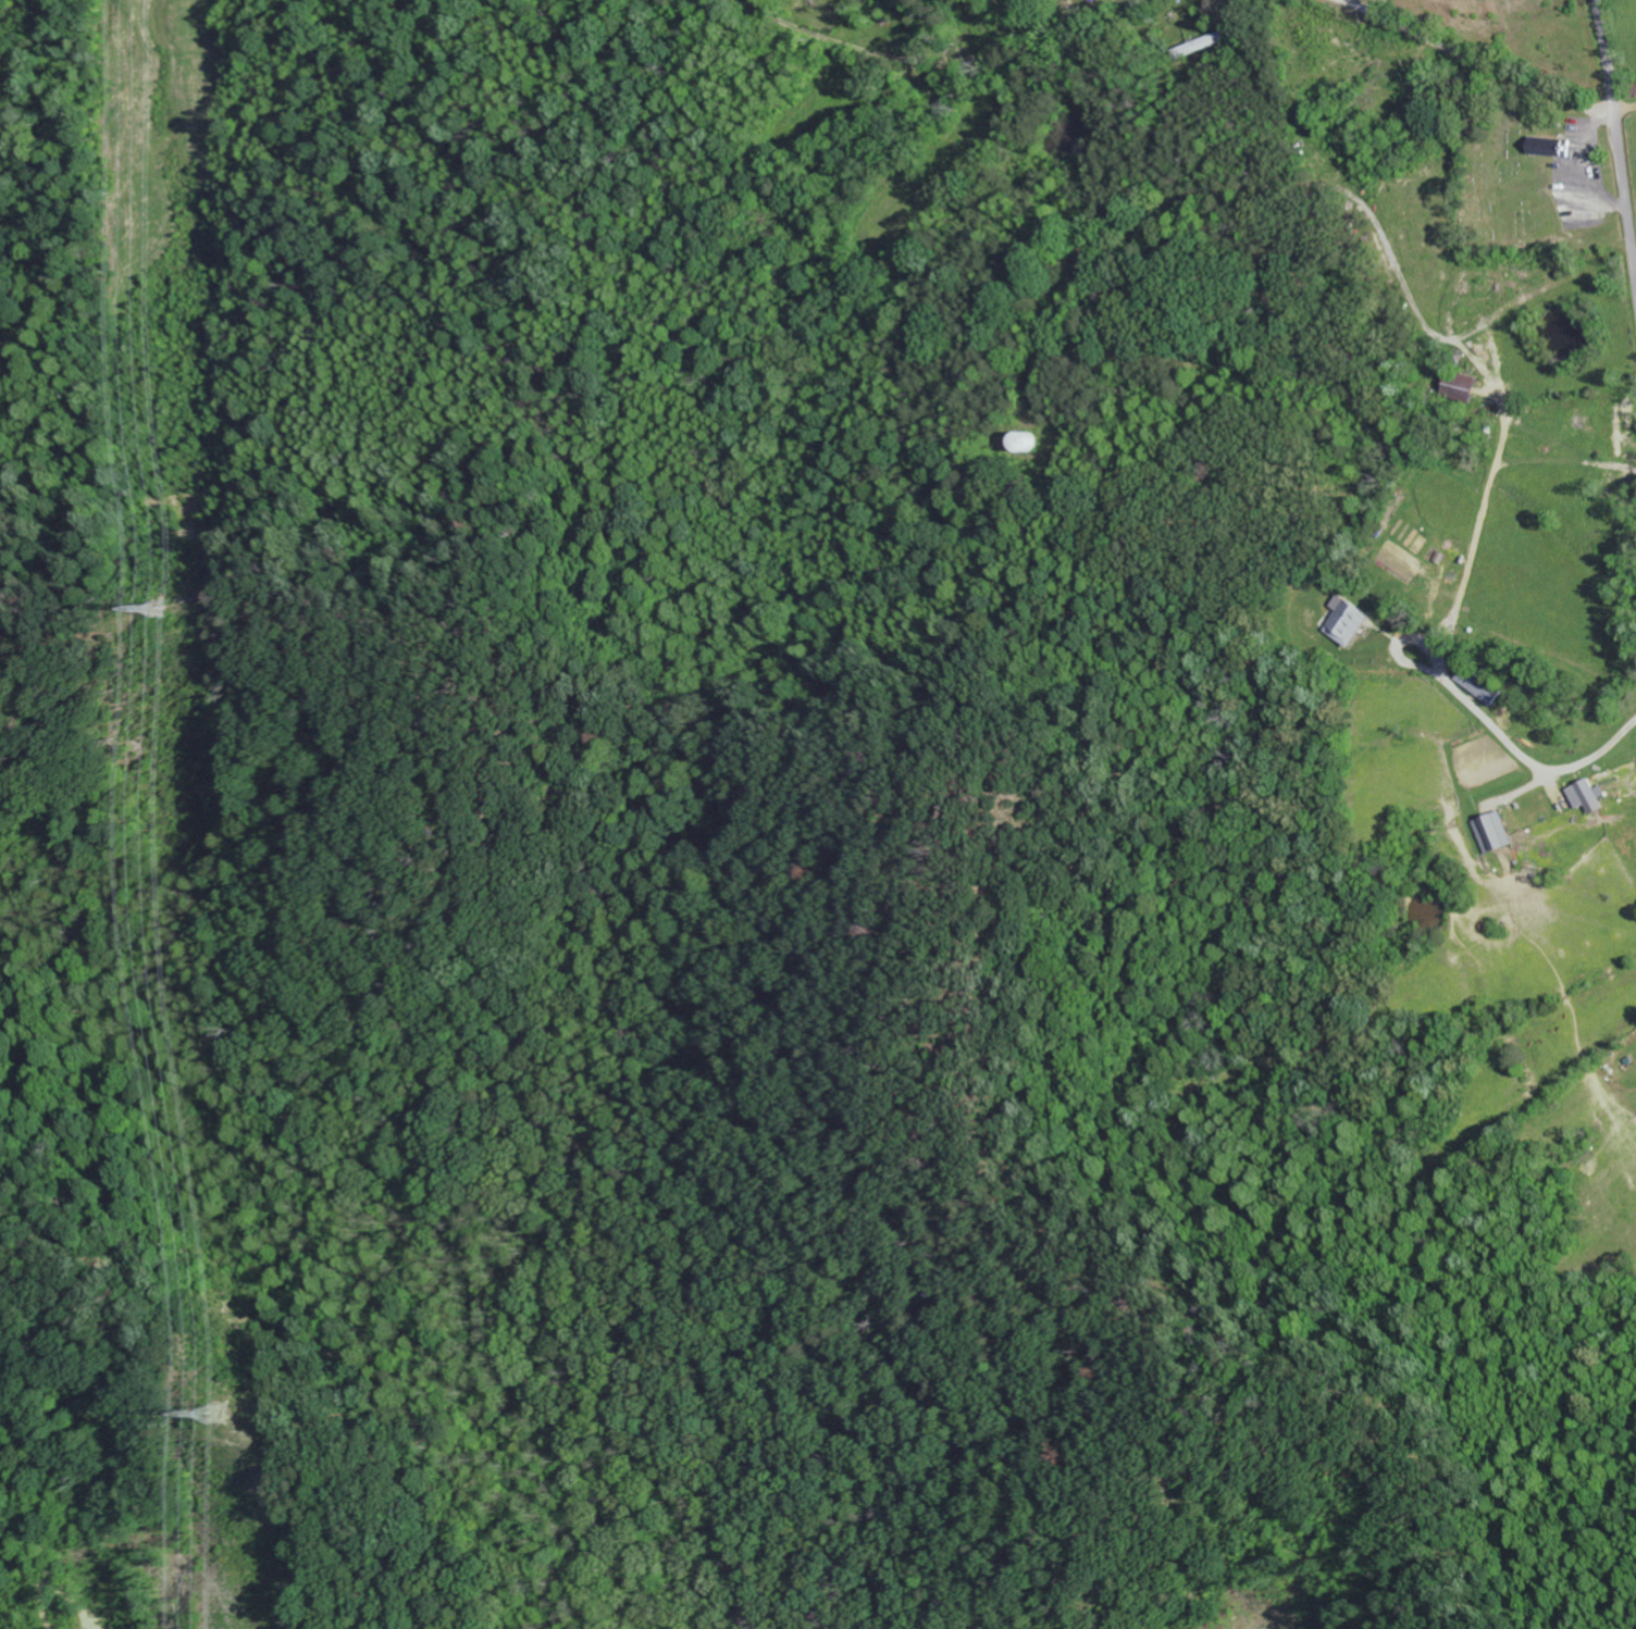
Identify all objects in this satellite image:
road: (1486, 55)
road: (1619, 134)
building: (1549, 147)
building: (1463, 386)
building: (1027, 443)
power tower: (137, 610)
building: (1350, 621)
building: (1480, 684)
building: (1586, 793)
building: (1495, 833)
power tower: (208, 1421)

